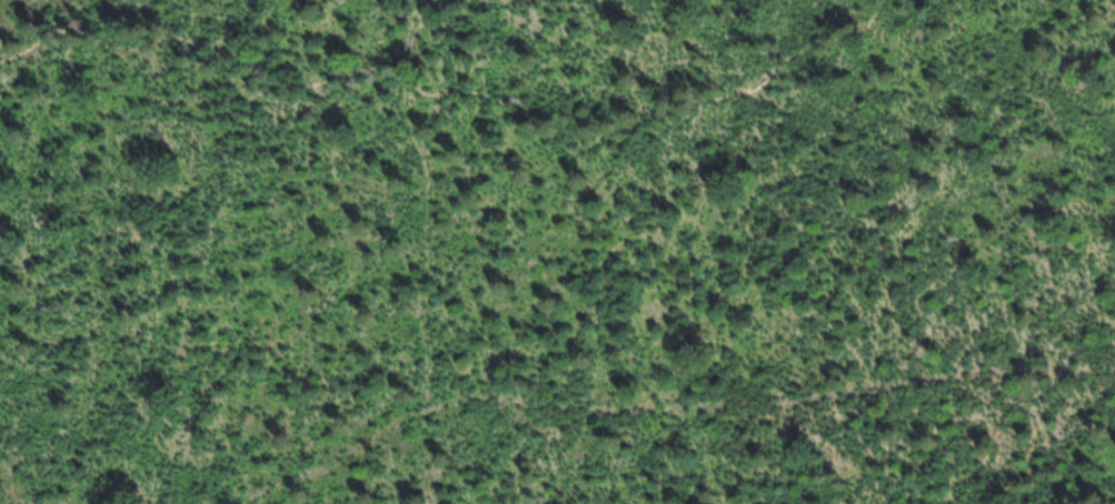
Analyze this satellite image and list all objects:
road: (455, 99)

